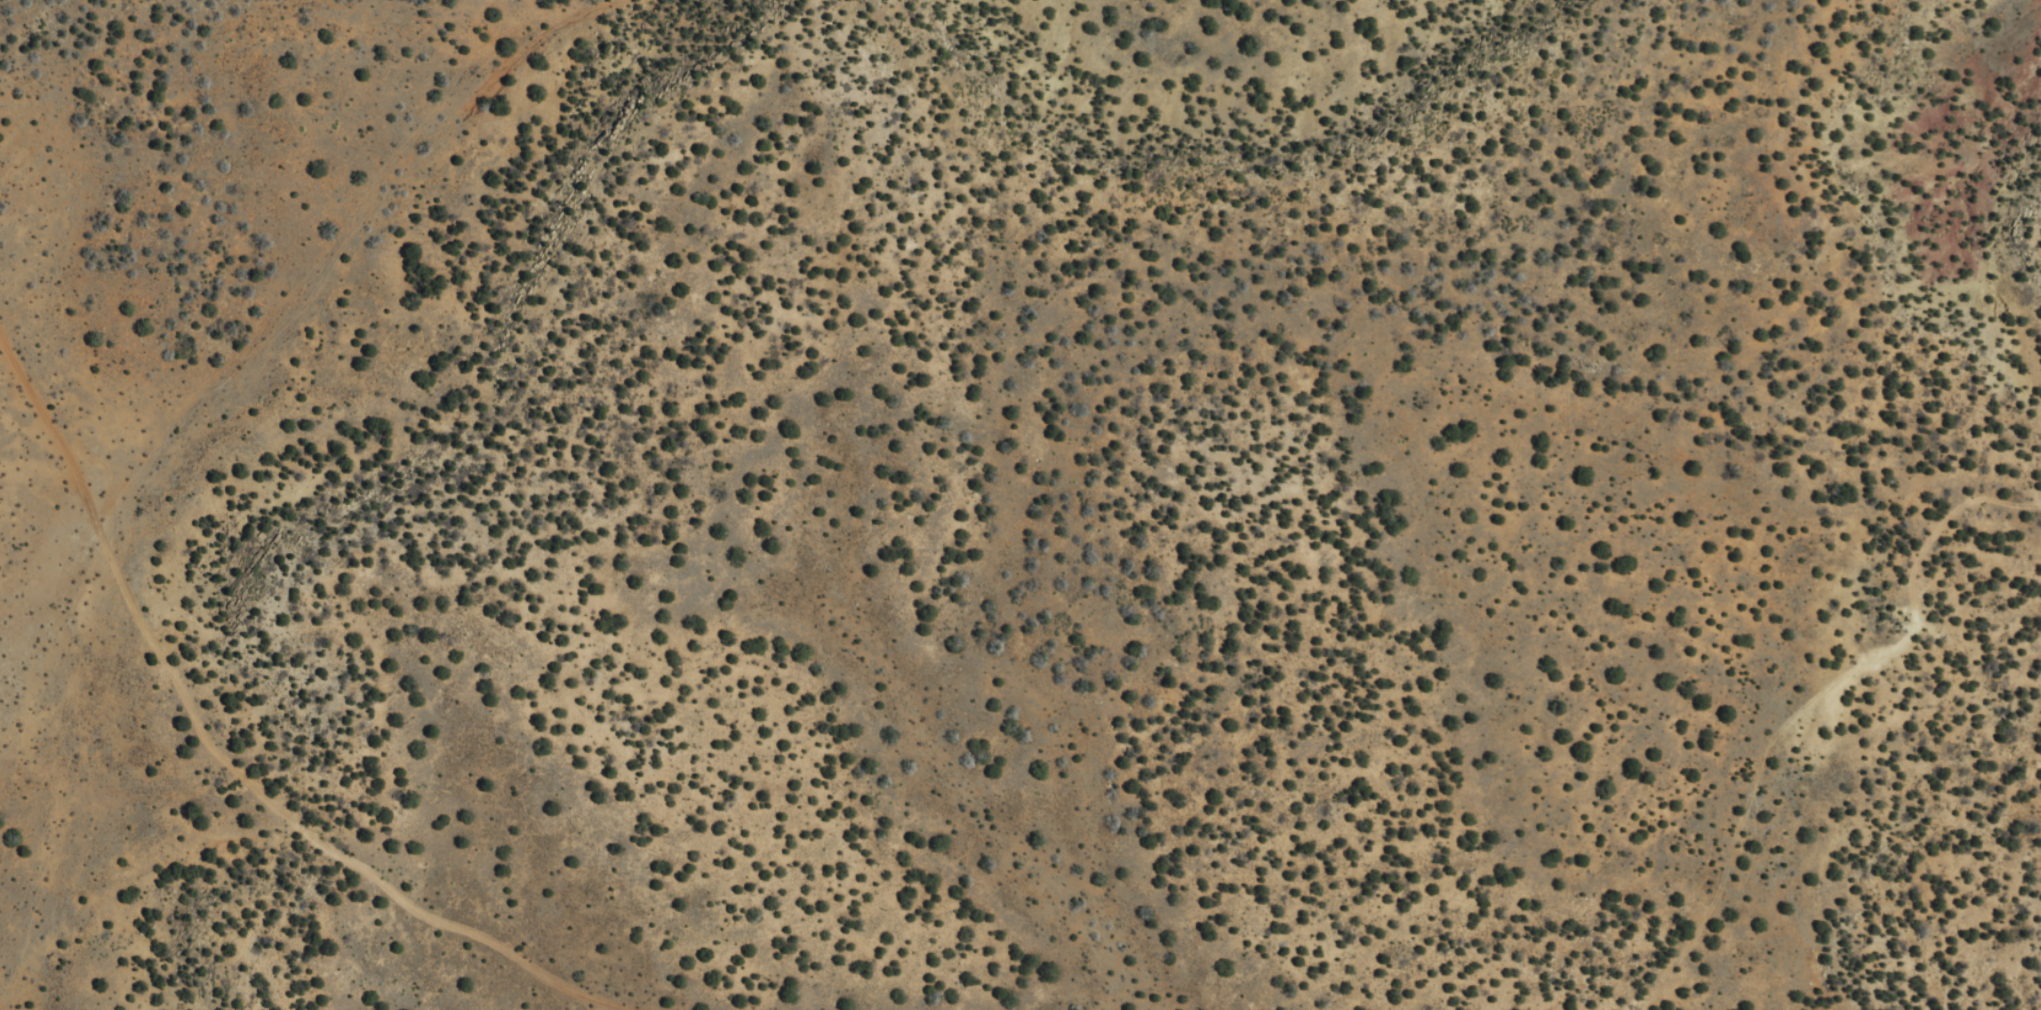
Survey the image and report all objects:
road: (1827, 729)

